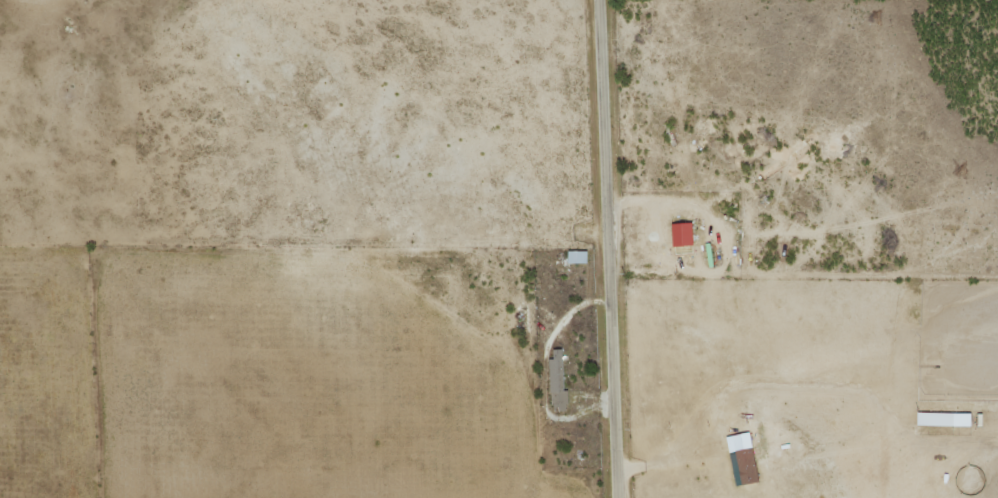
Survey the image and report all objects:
building: (680, 233)
road: (603, 249)
building: (576, 257)
building: (557, 382)
building: (942, 419)
building: (741, 459)

